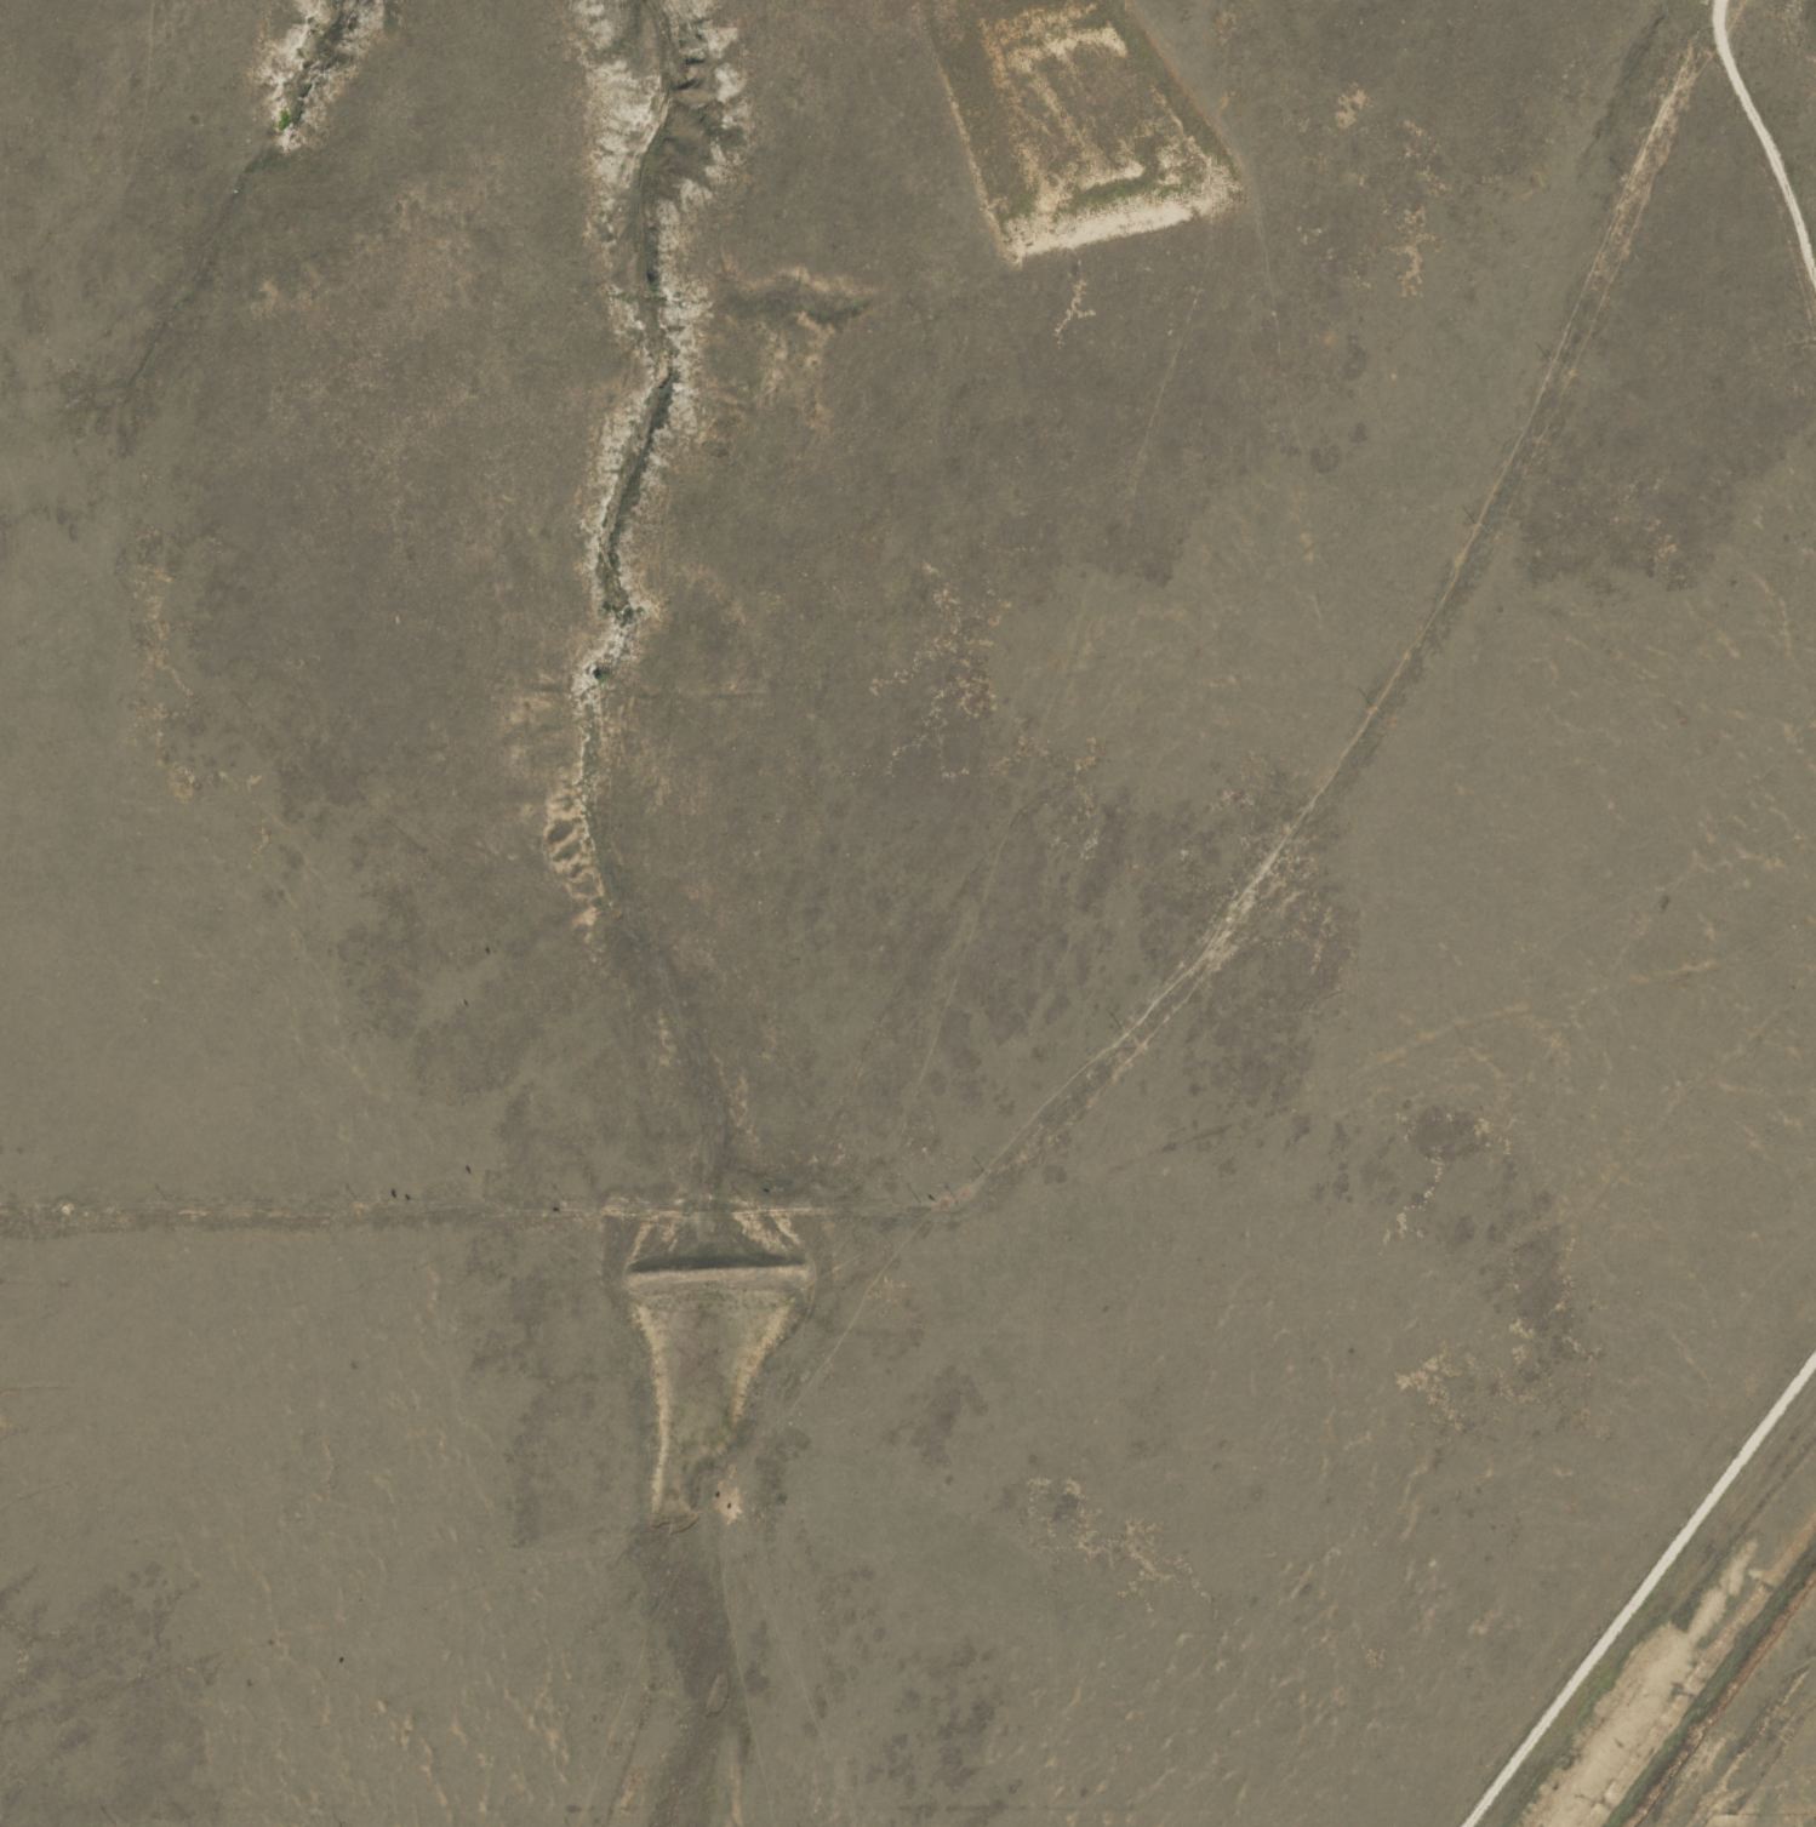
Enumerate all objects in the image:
road: (1644, 1593)

